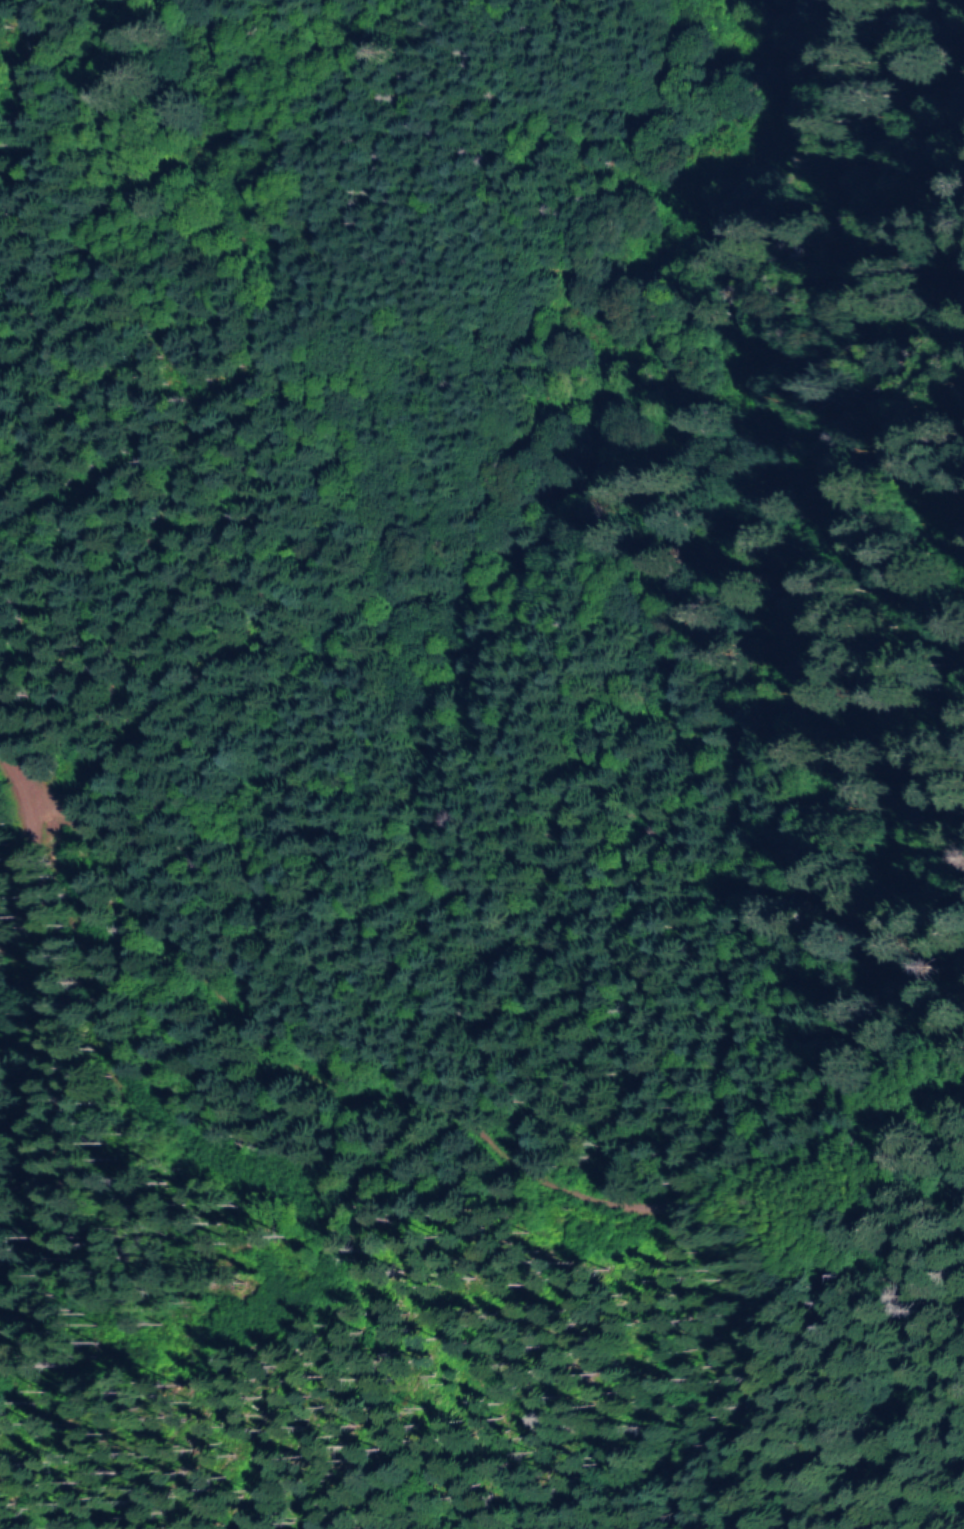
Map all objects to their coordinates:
road: (87, 993)
road: (462, 1116)

